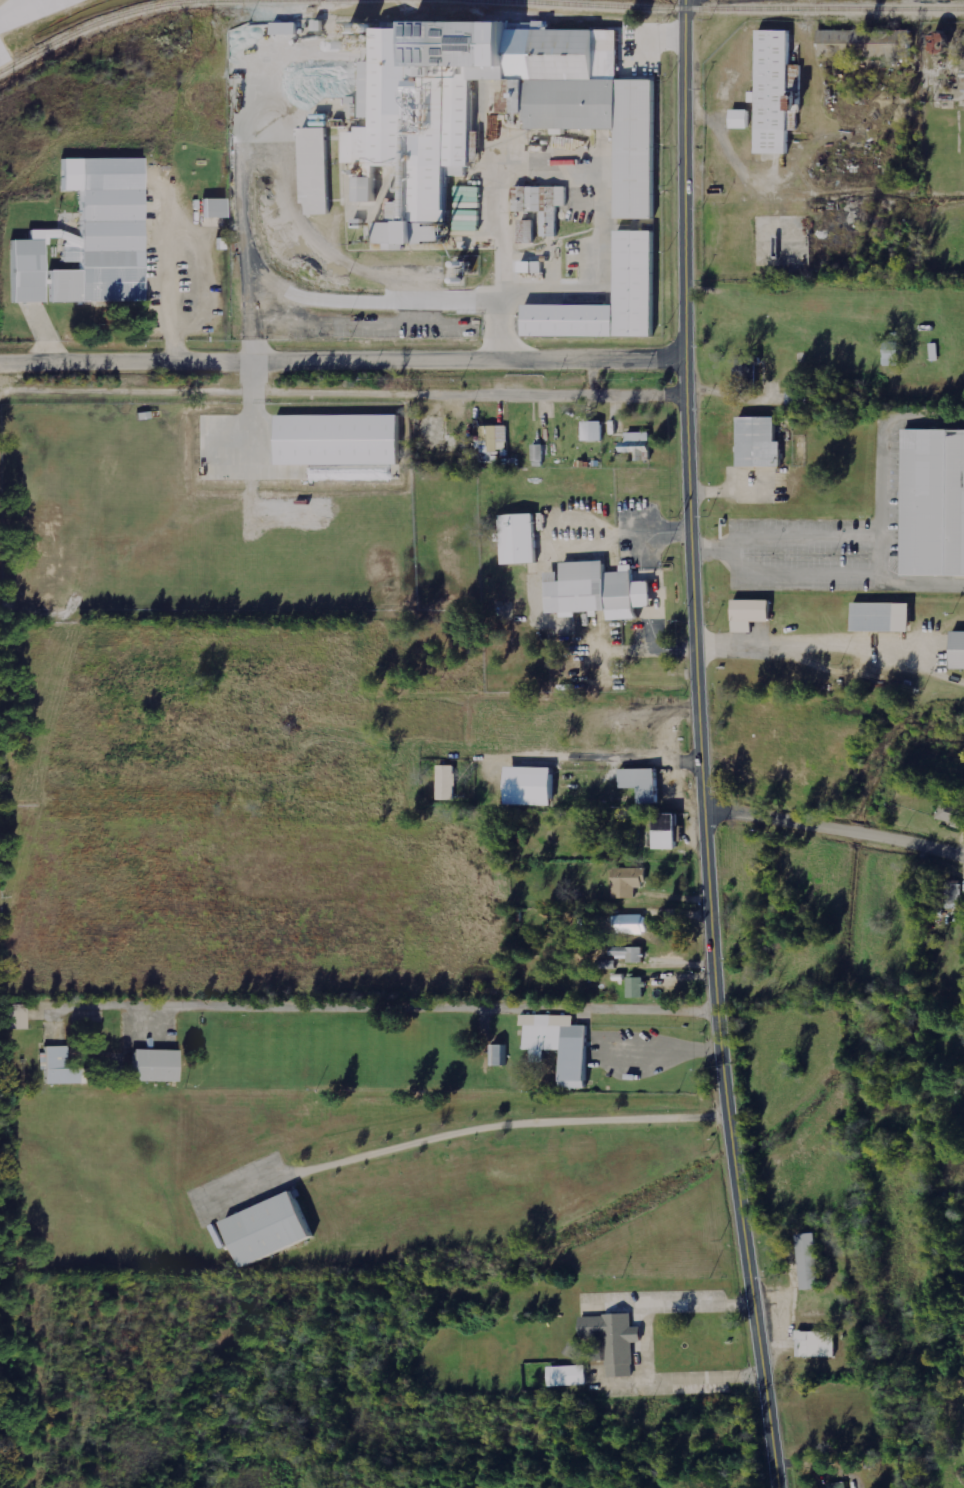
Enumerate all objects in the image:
road: (9, 5)
railway: (144, 10)
railway: (701, 11)
building: (289, 29)
building: (948, 44)
building: (860, 45)
building: (768, 93)
building: (743, 119)
building: (404, 146)
building: (319, 170)
building: (370, 190)
building: (212, 206)
building: (541, 210)
building: (100, 233)
building: (633, 266)
building: (535, 267)
building: (25, 270)
building: (895, 354)
road: (342, 355)
building: (749, 370)
building: (798, 398)
building: (596, 431)
building: (341, 440)
building: (493, 442)
building: (753, 443)
building: (640, 445)
building: (540, 455)
building: (930, 504)
building: (514, 540)
building: (592, 591)
building: (753, 613)
building: (877, 619)
building: (955, 652)
road: (700, 746)
building: (448, 782)
building: (645, 784)
building: (535, 786)
building: (952, 813)
road: (834, 826)
building: (629, 882)
building: (631, 924)
building: (630, 953)
building: (606, 964)
building: (637, 987)
road: (389, 1003)
building: (556, 1048)
building: (500, 1055)
building: (158, 1066)
building: (62, 1068)
road: (510, 1122)
building: (263, 1230)
building: (812, 1261)
building: (814, 1326)
building: (607, 1341)
building: (818, 1344)
building: (563, 1377)
building: (838, 1485)

